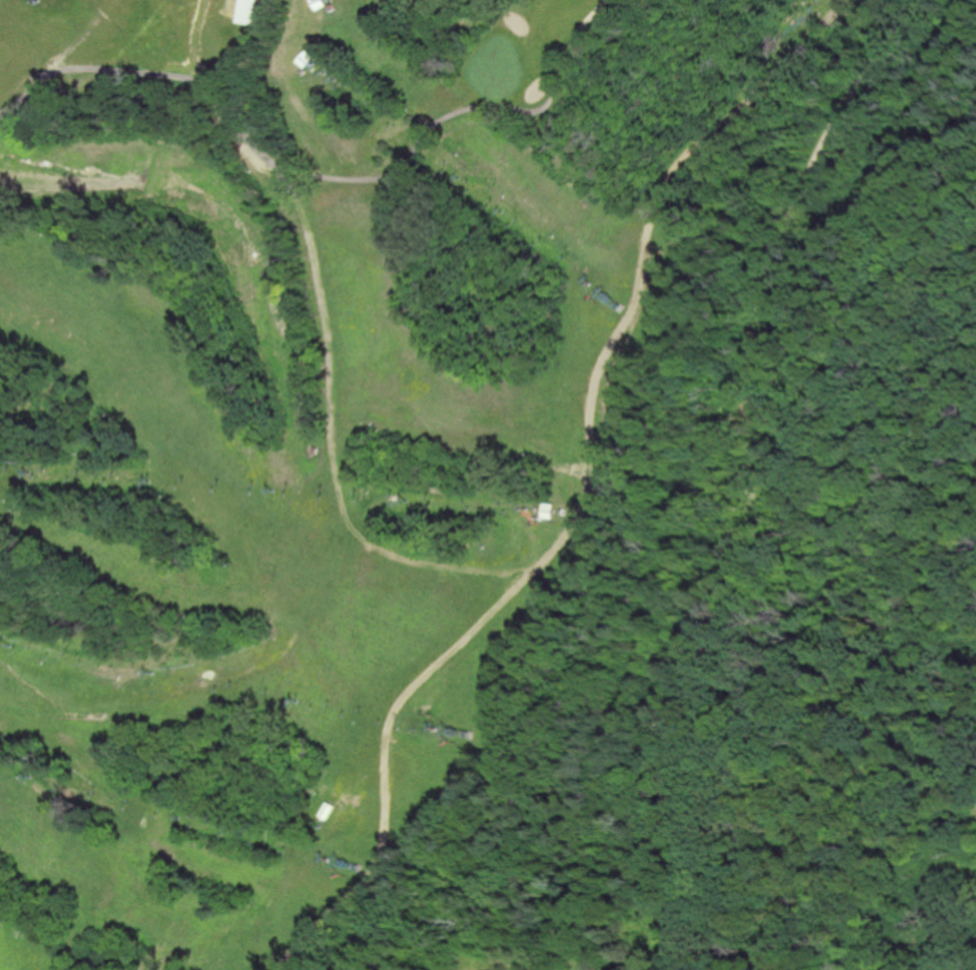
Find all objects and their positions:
building: (246, 11)
park: (459, 49)
aerialway pylon: (333, 80)
park: (30, 147)
aerialway pylon: (457, 178)
aerialway pylon: (501, 213)
road: (821, 226)
aerialway pylon: (589, 282)
road: (869, 348)
ski resort: (334, 426)
aerialway pylon: (10, 471)
aerialway pylon: (274, 490)
aerialway pylon: (407, 500)
park: (837, 601)
aerialway pylon: (12, 642)
aerialway pylon: (154, 669)
aerialway pylon: (301, 697)
road: (746, 727)
aerialway pylon: (34, 775)
aerialway pylon: (182, 816)

